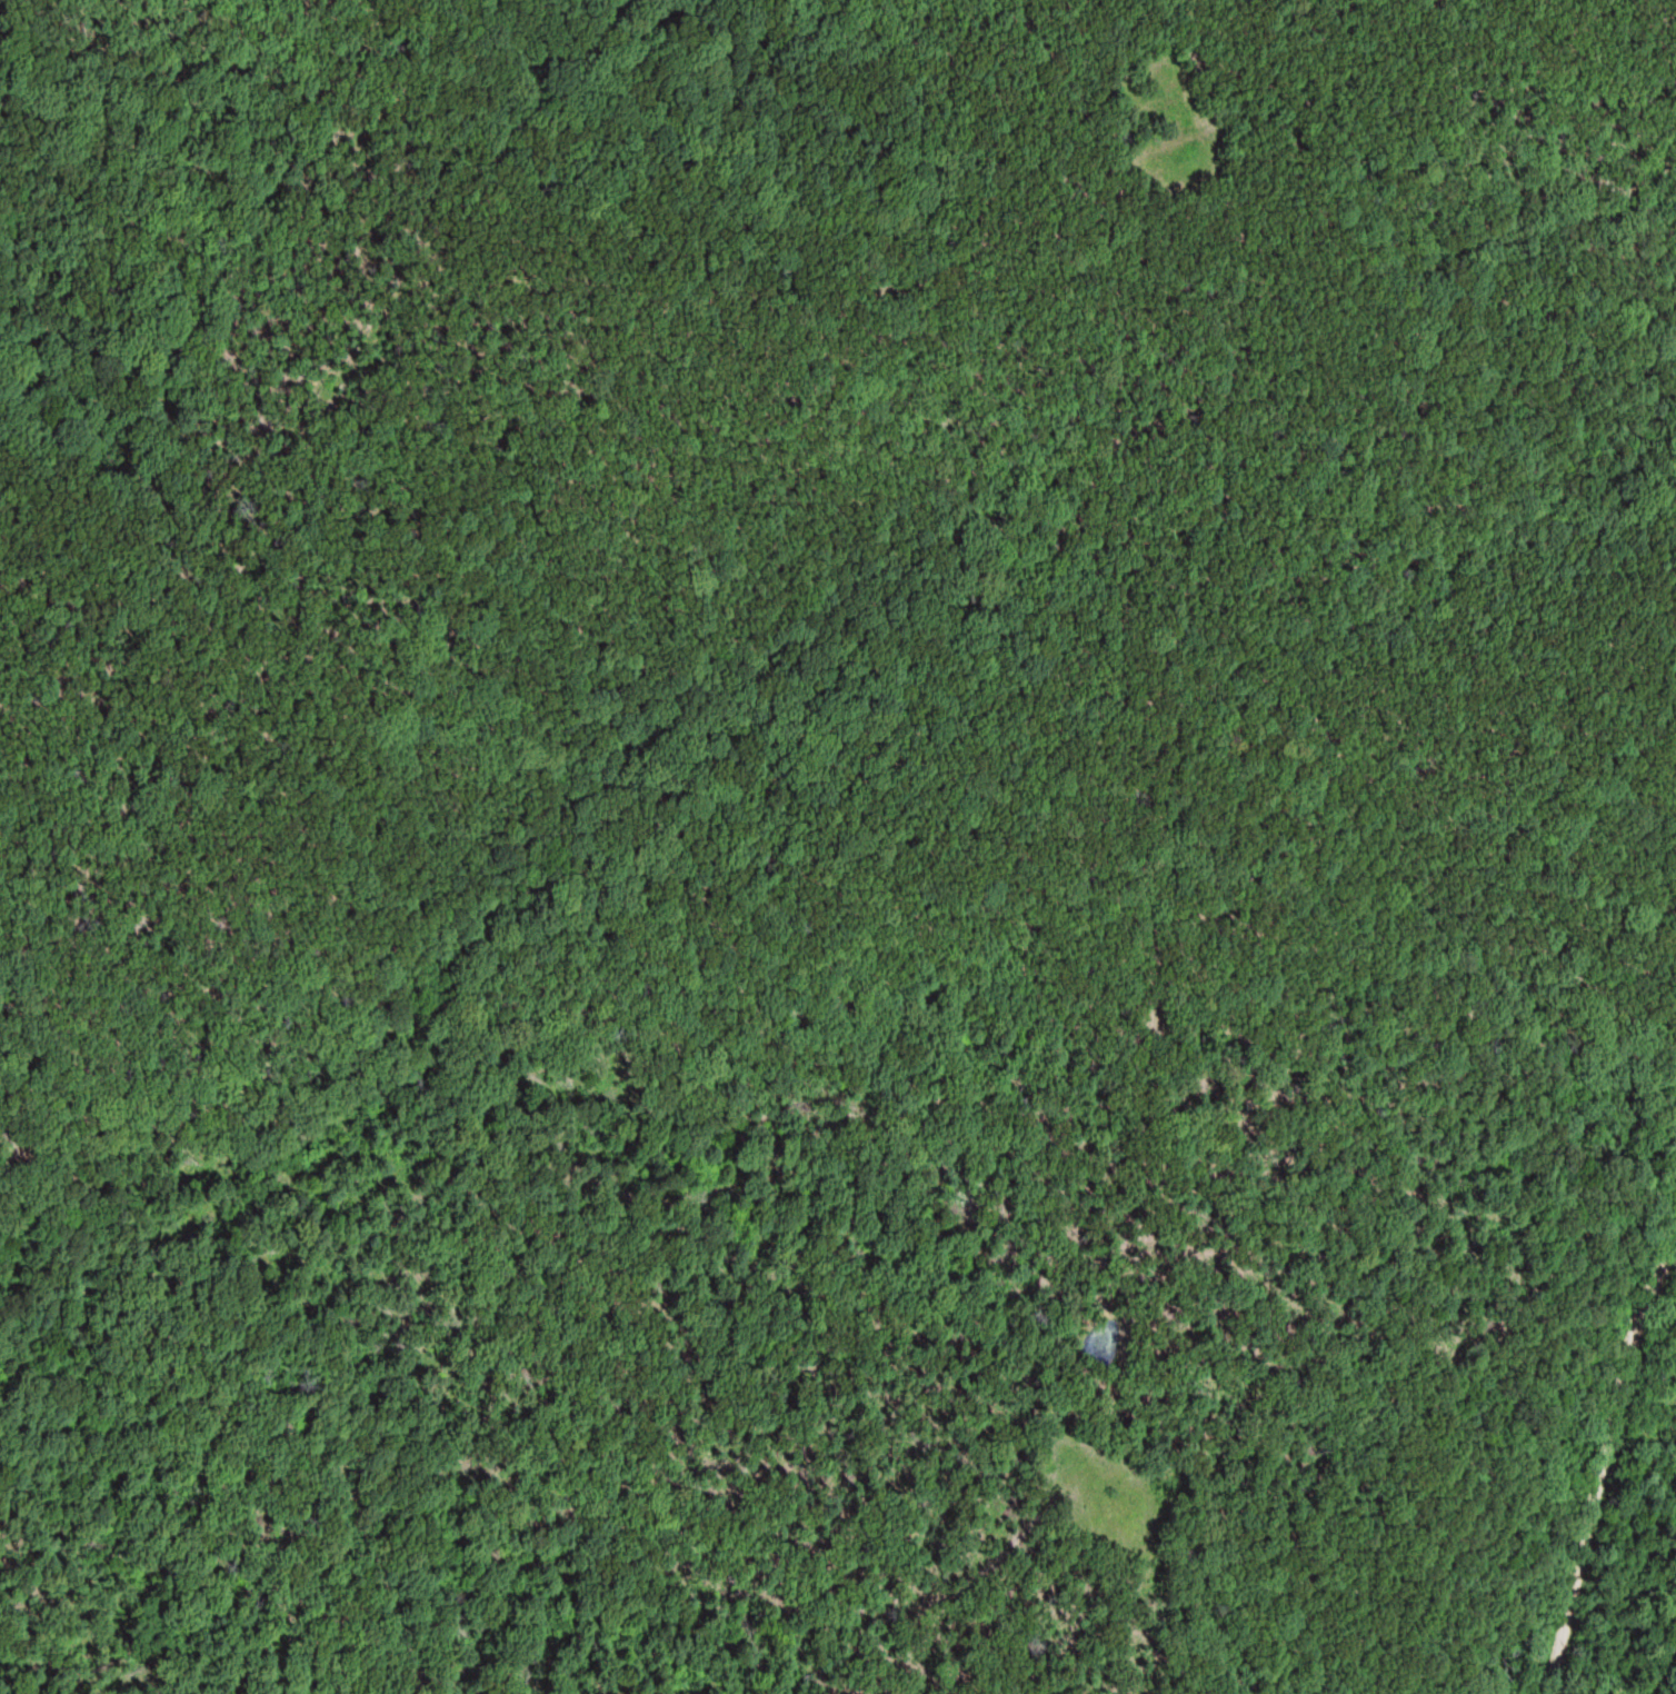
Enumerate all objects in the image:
road: (1604, 1471)

